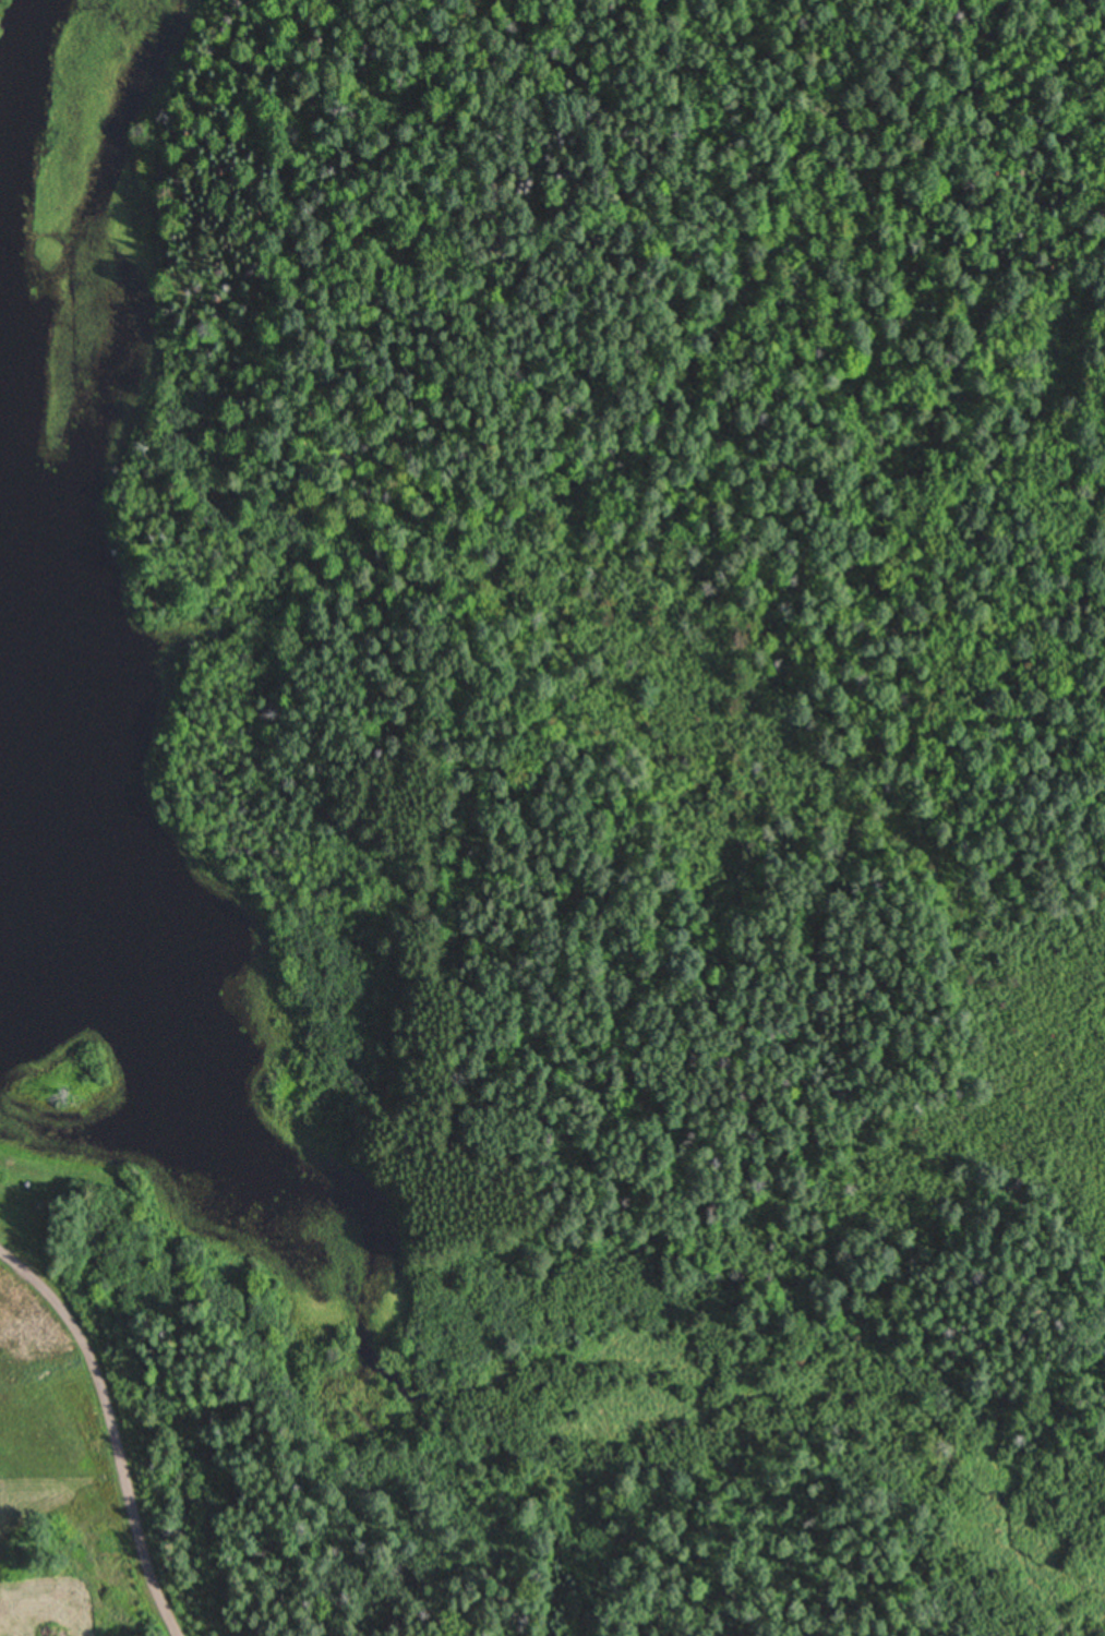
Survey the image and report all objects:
river: (34, 246)
park: (81, 1443)

